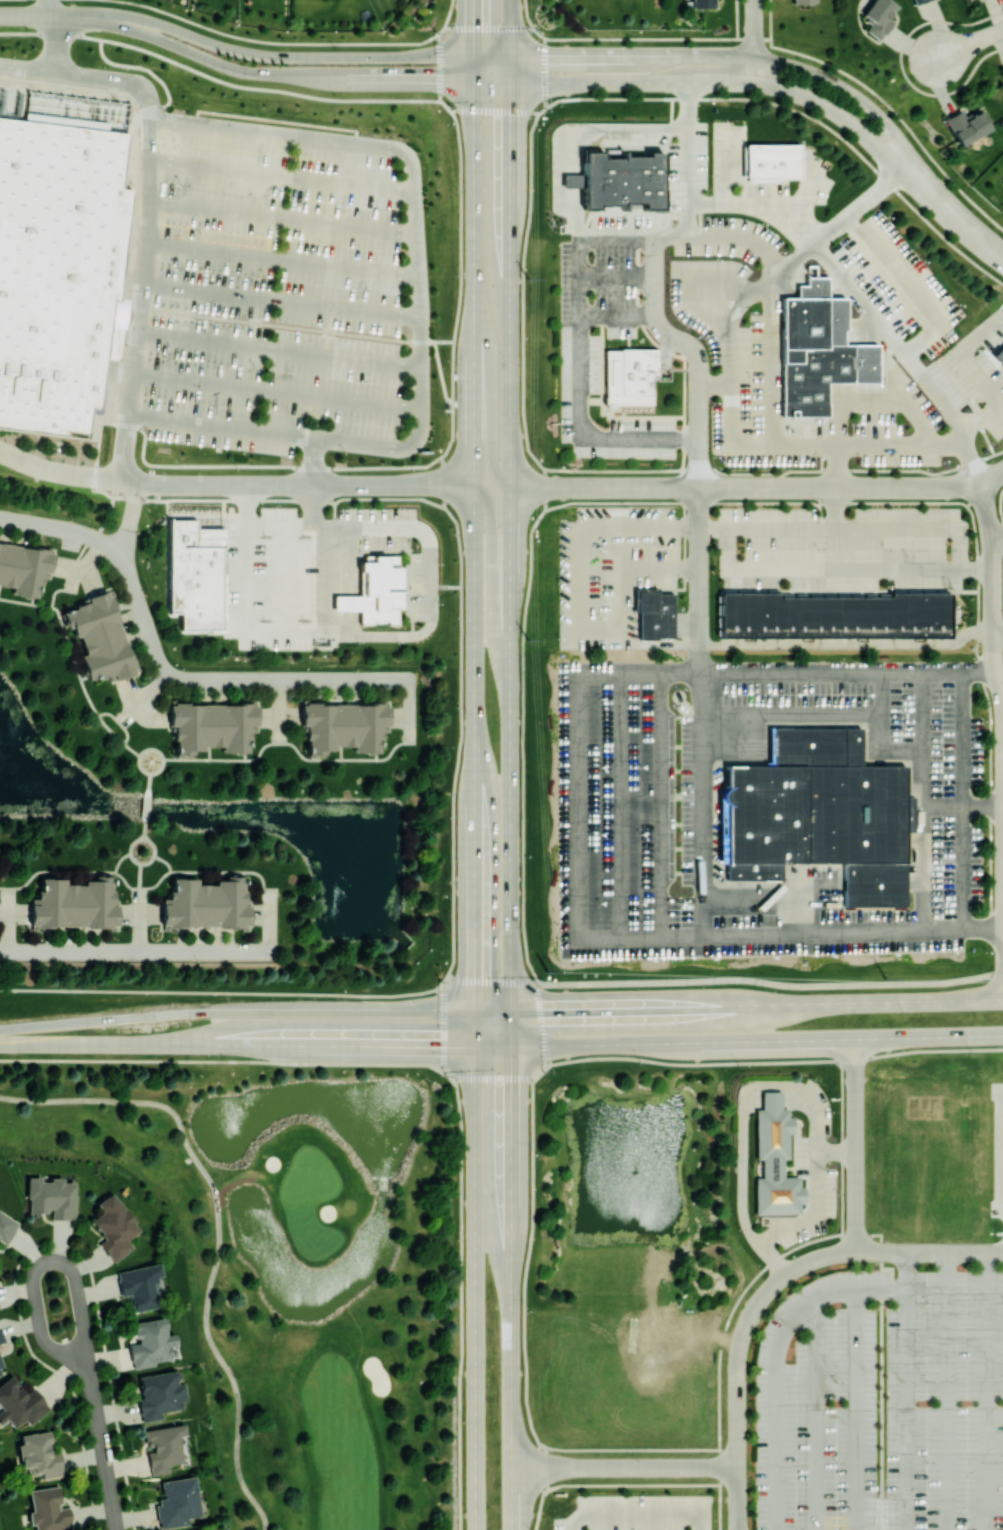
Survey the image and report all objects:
building: (802, 1)
building: (918, 1)
building: (701, 3)
road: (48, 7)
road: (755, 14)
road: (60, 15)
traffic signals: (473, 15)
building: (878, 17)
road: (736, 19)
road: (770, 19)
road: (509, 26)
road: (473, 28)
road: (969, 43)
road: (804, 53)
road: (548, 54)
traffic signals: (556, 54)
road: (670, 54)
road: (753, 55)
road: (313, 56)
road: (218, 62)
road: (900, 64)
road: (27, 69)
road: (371, 80)
traffic signals: (428, 81)
road: (493, 82)
road: (660, 82)
road: (845, 88)
road: (835, 111)
traffic signals: (510, 120)
building: (967, 124)
road: (644, 127)
building: (771, 161)
road: (561, 171)
road: (283, 176)
building: (619, 180)
road: (861, 200)
road: (758, 205)
road: (149, 208)
road: (951, 211)
road: (474, 212)
road: (282, 215)
road: (414, 217)
road: (617, 235)
road: (673, 235)
road: (281, 257)
road: (794, 259)
building: (58, 271)
power tower: (528, 278)
road: (907, 287)
parking lot: (286, 289)
road: (280, 298)
road: (617, 318)
road: (311, 328)
road: (773, 328)
road: (731, 336)
road: (675, 337)
road: (893, 341)
road: (279, 346)
building: (818, 349)
building: (629, 375)
road: (278, 388)
road: (489, 395)
road: (579, 395)
road: (222, 424)
road: (732, 435)
road: (314, 460)
road: (699, 463)
road: (974, 463)
road: (835, 466)
road: (57, 470)
road: (991, 476)
road: (133, 480)
road: (298, 485)
road: (452, 485)
road: (465, 485)
road: (442, 486)
road: (839, 486)
road: (517, 487)
road: (529, 487)
road: (617, 487)
road: (984, 504)
road: (835, 506)
road: (109, 517)
road: (130, 517)
road: (61, 526)
road: (865, 526)
road: (997, 538)
building: (23, 566)
road: (824, 567)
road: (628, 572)
building: (196, 574)
road: (699, 579)
road: (580, 581)
road: (492, 582)
building: (373, 591)
road: (432, 598)
building: (655, 613)
road: (993, 613)
building: (834, 615)
road: (998, 631)
power tower: (529, 639)
building: (100, 640)
road: (848, 643)
road: (74, 662)
road: (222, 679)
road: (475, 690)
road: (149, 691)
road: (279, 702)
road: (409, 702)
road: (138, 705)
road: (790, 712)
building: (344, 722)
building: (212, 725)
road: (880, 730)
road: (279, 734)
road: (294, 745)
road: (140, 758)
road: (522, 762)
road: (149, 780)
road: (511, 792)
road: (963, 800)
road: (925, 801)
road: (700, 802)
road: (146, 805)
road: (578, 806)
road: (944, 806)
road: (983, 806)
building: (815, 813)
road: (144, 829)
road: (143, 837)
road: (66, 870)
road: (218, 870)
road: (140, 882)
building: (75, 905)
building: (205, 905)
road: (139, 926)
road: (268, 926)
road: (134, 949)
power tower: (548, 970)
traffic signals: (475, 972)
power tower: (885, 976)
road: (724, 979)
road: (267, 992)
road: (738, 1004)
traffic signals: (550, 1011)
road: (237, 1013)
road: (474, 1029)
road: (738, 1039)
road: (236, 1044)
traffic signals: (434, 1047)
road: (855, 1054)
road: (267, 1059)
road: (775, 1061)
traffic signals: (512, 1087)
road: (130, 1100)
road: (1002, 1145)
building: (774, 1159)
road: (856, 1160)
fountain: (624, 1176)
road: (236, 1177)
building: (52, 1197)
road: (814, 1213)
building: (114, 1226)
building: (6, 1227)
road: (929, 1251)
road: (42, 1262)
road: (809, 1262)
park: (297, 1270)
building: (140, 1285)
road: (475, 1288)
road: (760, 1299)
road: (461, 1303)
building: (1, 1338)
building: (150, 1342)
road: (775, 1358)
road: (223, 1360)
building: (1, 1368)
road: (738, 1387)
road: (907, 1390)
road: (947, 1390)
road: (987, 1390)
building: (159, 1394)
building: (19, 1403)
road: (855, 1408)
road: (815, 1413)
road: (101, 1445)
building: (163, 1446)
building: (39, 1454)
road: (642, 1466)
road: (528, 1467)
road: (738, 1498)
building: (177, 1501)
building: (47, 1509)
road: (637, 1514)
park: (0, 1528)
building: (202, 1529)

